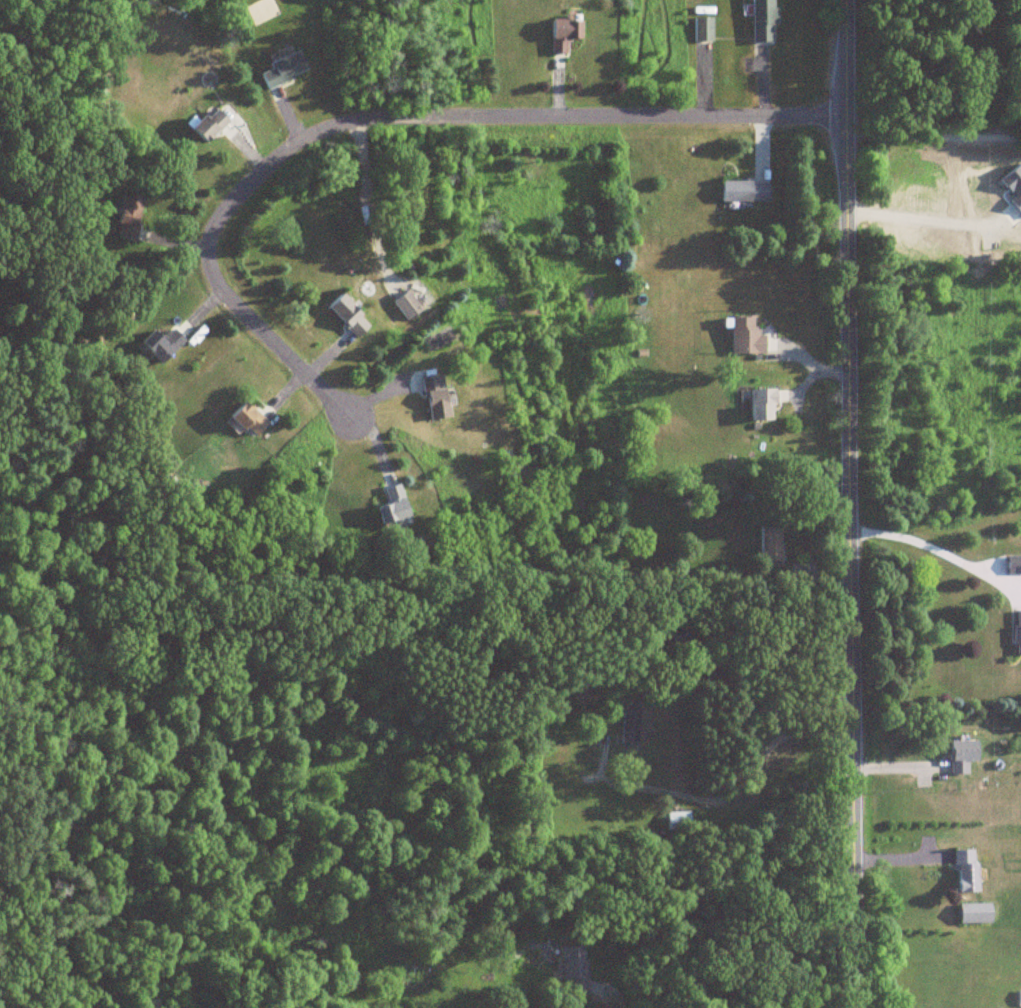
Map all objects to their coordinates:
building: (759, 21)
building: (701, 30)
building: (560, 35)
building: (280, 71)
road: (382, 119)
building: (204, 127)
road: (932, 135)
building: (741, 193)
crop: (952, 206)
building: (126, 219)
road: (920, 228)
building: (404, 306)
building: (345, 317)
building: (742, 337)
building: (159, 346)
building: (432, 398)
building: (758, 404)
building: (242, 420)
road: (848, 504)
building: (390, 505)
building: (768, 543)
road: (931, 548)
building: (1012, 565)
building: (1016, 631)
building: (627, 727)
building: (958, 756)
road: (740, 789)
building: (677, 821)
building: (961, 871)
building: (969, 913)
building: (571, 969)
building: (1017, 998)
road: (623, 1002)
road: (822, 1002)

